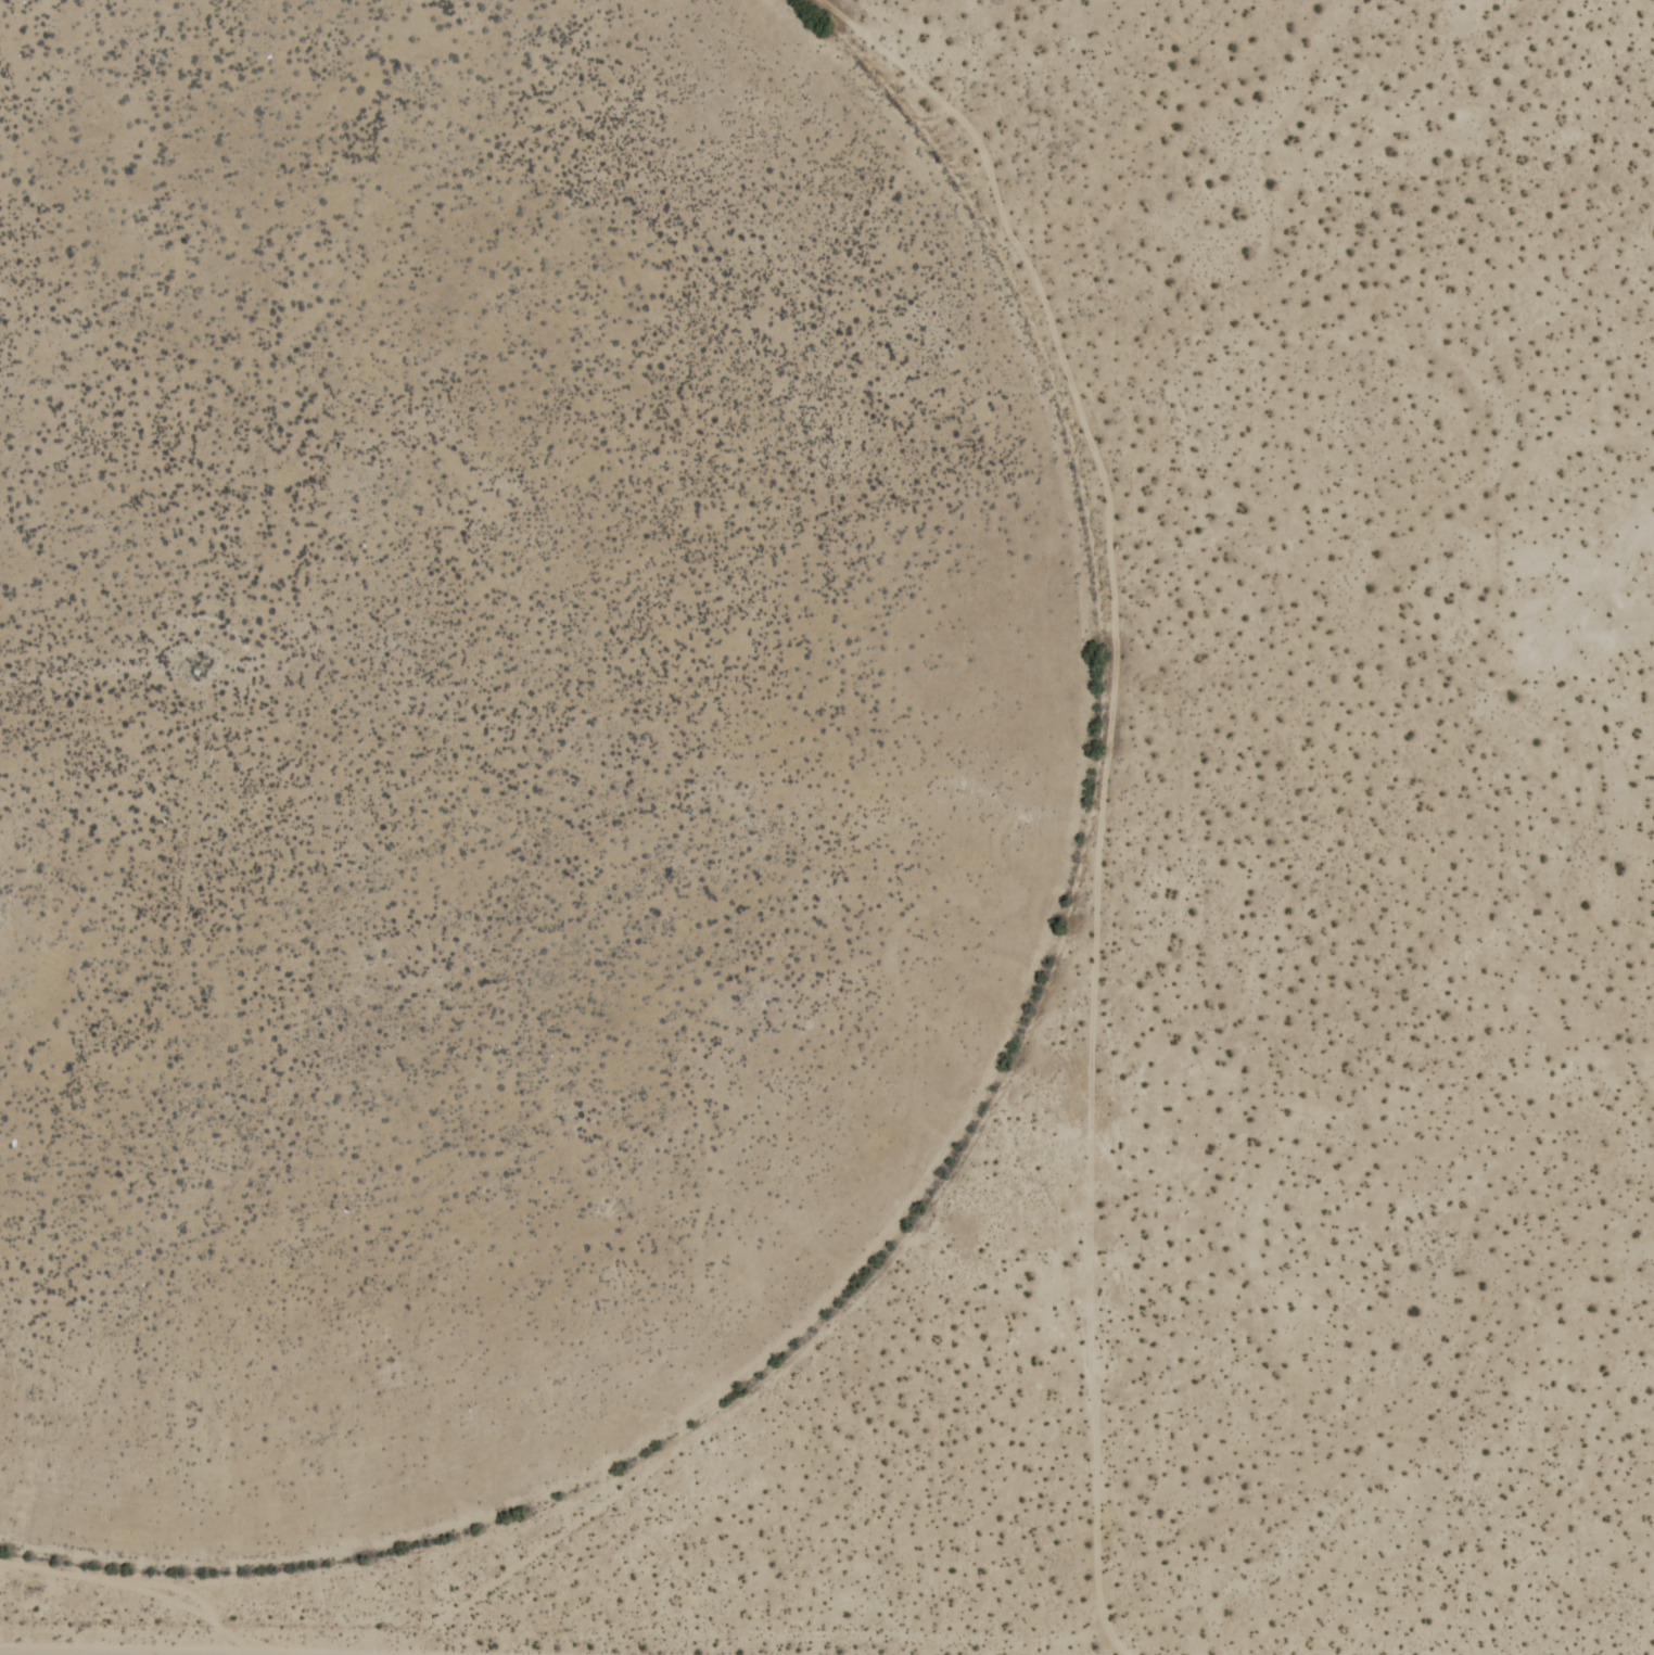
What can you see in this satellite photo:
road: (150, 1652)

